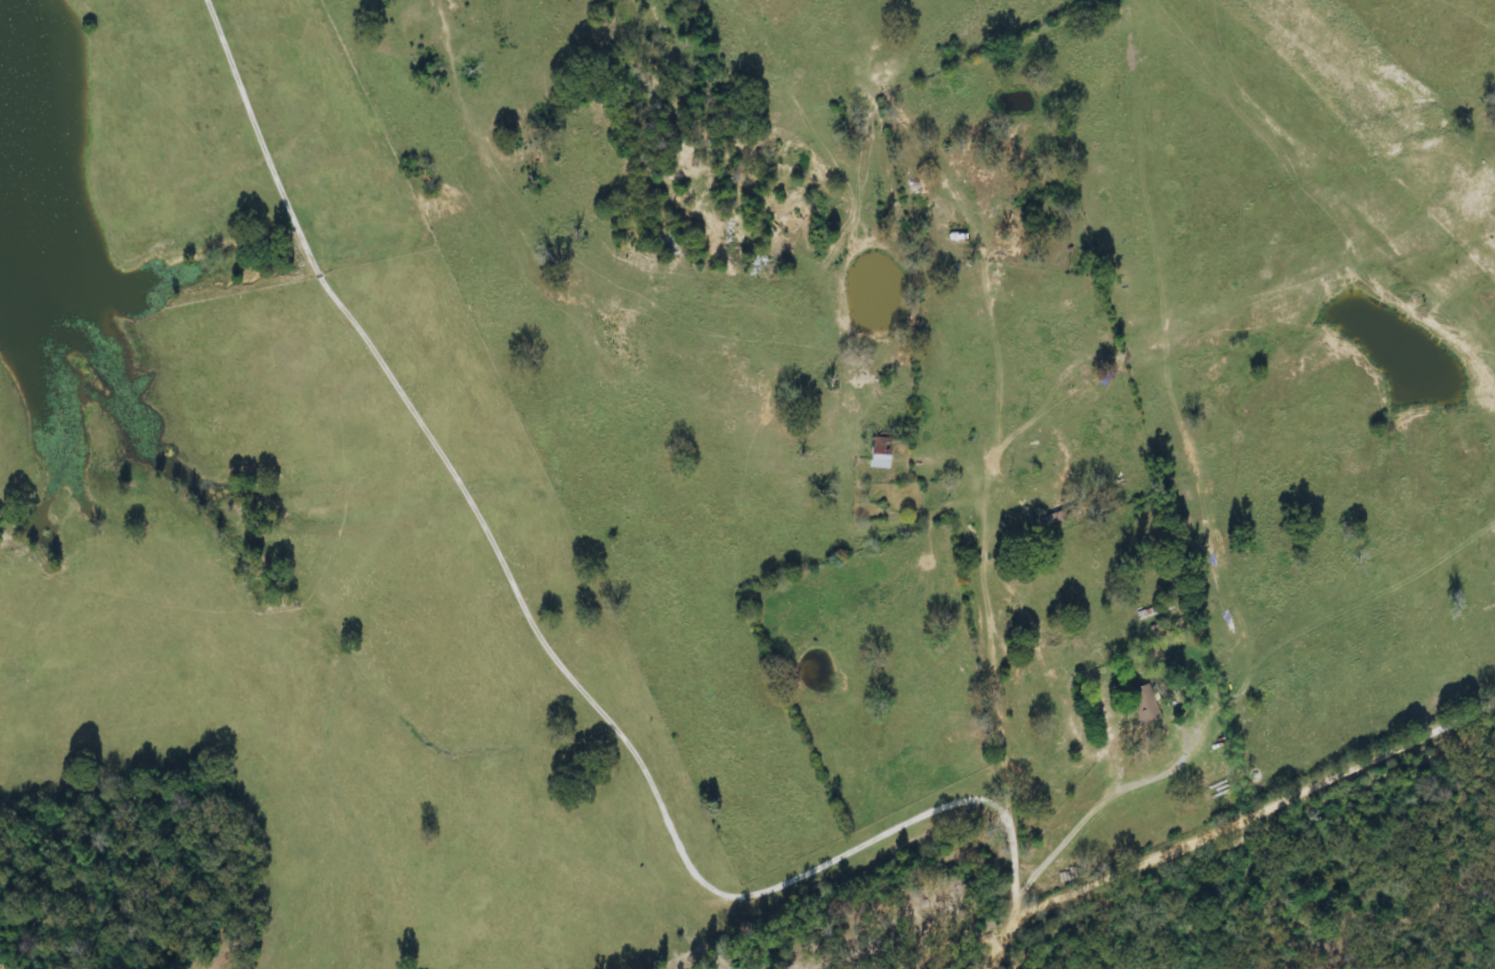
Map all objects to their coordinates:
road: (992, 449)
building: (1145, 705)
road: (1230, 820)

